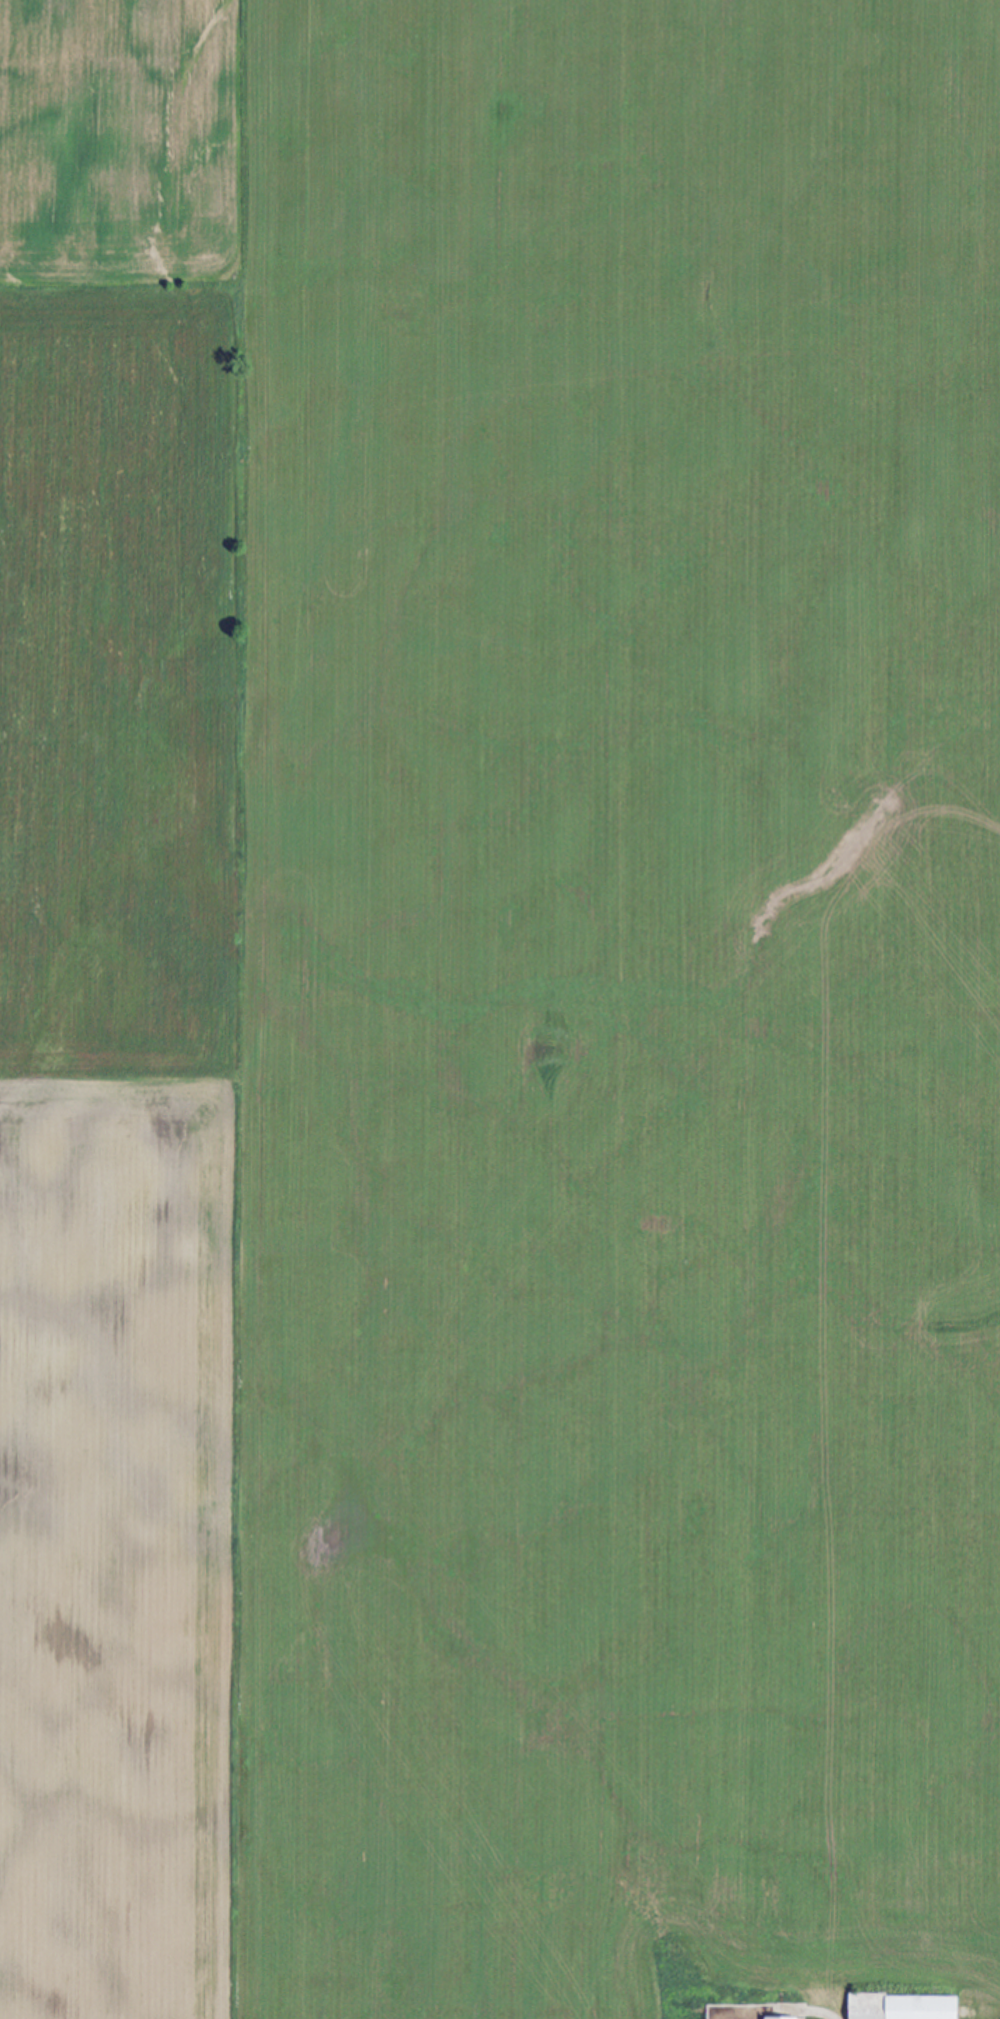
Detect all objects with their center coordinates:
building: (901, 2006)
building: (779, 2017)

